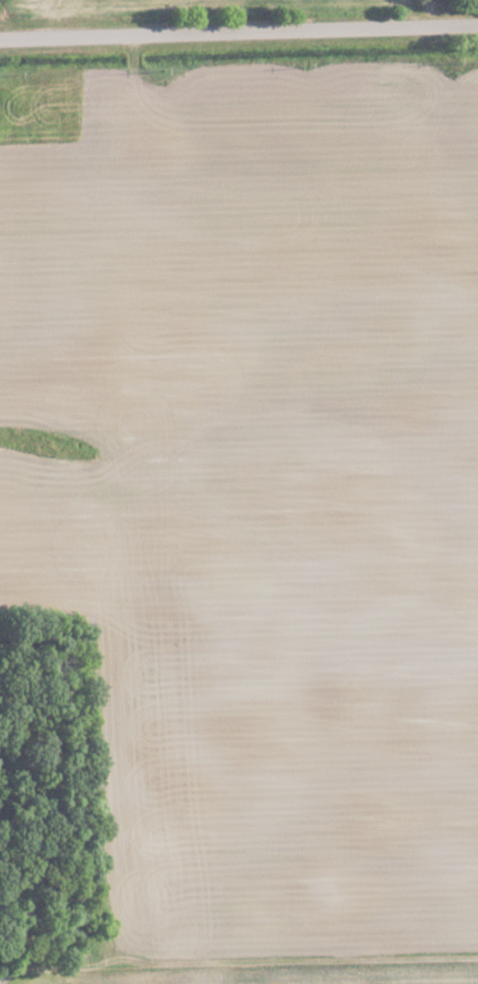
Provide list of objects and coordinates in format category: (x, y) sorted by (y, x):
road: (239, 36)

